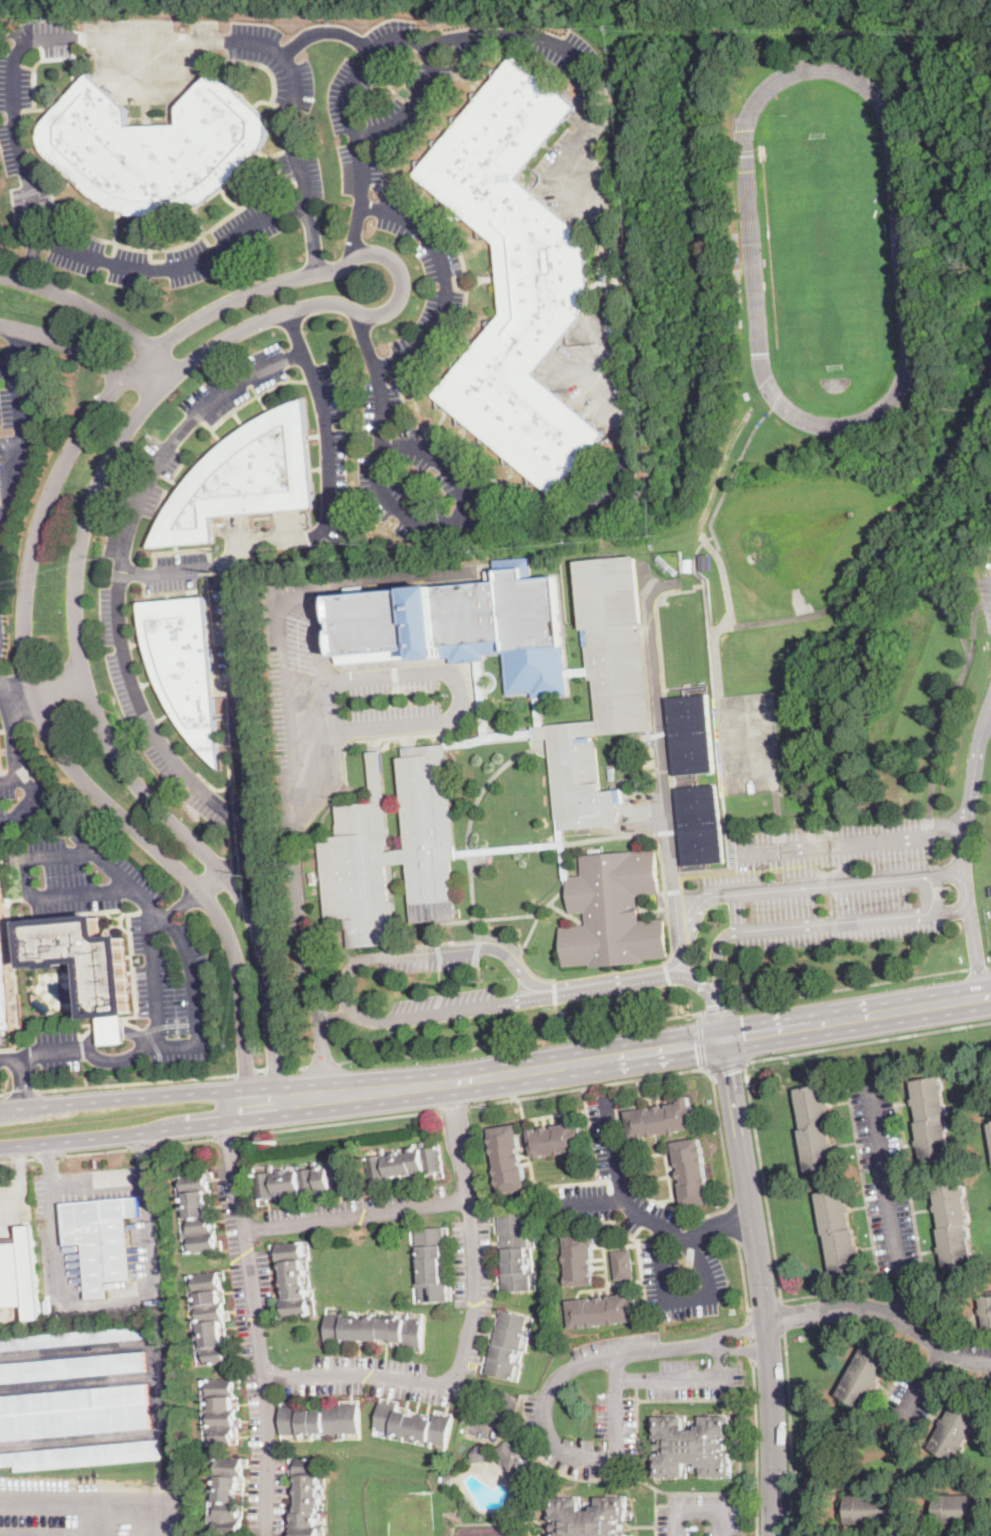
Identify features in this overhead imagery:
parking lot: (2, 0)
road: (330, 32)
road: (413, 38)
parking lot: (205, 48)
building: (216, 54)
road: (14, 72)
parking lot: (420, 87)
road: (412, 102)
parking lot: (14, 118)
building: (153, 147)
parking lot: (259, 216)
road: (357, 225)
road: (311, 234)
park: (826, 247)
track: (825, 250)
road: (29, 256)
building: (735, 260)
building: (516, 277)
parking lot: (445, 288)
road: (440, 307)
road: (96, 311)
road: (296, 332)
road: (83, 351)
road: (614, 366)
building: (746, 396)
parking lot: (16, 404)
road: (22, 406)
road: (201, 410)
parking lot: (332, 440)
building: (244, 477)
parking lot: (463, 484)
road: (12, 485)
road: (421, 522)
building: (705, 563)
building: (687, 565)
power tower: (220, 573)
power tower: (4, 585)
road: (24, 598)
road: (934, 599)
parking lot: (986, 599)
road: (987, 604)
parking lot: (113, 621)
road: (76, 622)
road: (989, 623)
building: (466, 624)
road: (974, 631)
building: (684, 642)
building: (183, 665)
building: (577, 671)
road: (326, 680)
road: (241, 687)
road: (44, 688)
building: (603, 691)
building: (481, 693)
road: (460, 695)
building: (223, 704)
building: (539, 712)
road: (987, 713)
road: (11, 732)
building: (691, 733)
power tower: (238, 744)
building: (540, 744)
road: (661, 746)
building: (1, 758)
road: (38, 792)
parking lot: (22, 797)
road: (968, 798)
building: (700, 824)
road: (851, 838)
building: (394, 850)
road: (237, 861)
building: (564, 867)
parking lot: (79, 873)
power tower: (252, 875)
road: (213, 882)
road: (64, 894)
road: (187, 903)
building: (613, 911)
building: (435, 932)
road: (975, 949)
road: (979, 968)
building: (89, 969)
parking lot: (173, 972)
road: (621, 974)
building: (4, 981)
road: (849, 986)
road: (157, 995)
road: (674, 1001)
building: (43, 1007)
road: (718, 1009)
road: (698, 1015)
road: (720, 1016)
road: (857, 1017)
road: (117, 1028)
road: (743, 1032)
traffic signals: (723, 1039)
road: (521, 1040)
road: (322, 1042)
road: (701, 1044)
road: (83, 1046)
parking lot: (57, 1048)
power tower: (797, 1057)
road: (323, 1063)
road: (296, 1067)
road: (728, 1068)
road: (259, 1069)
road: (274, 1069)
road: (245, 1070)
road: (85, 1071)
road: (474, 1078)
road: (23, 1079)
road: (136, 1080)
road: (714, 1086)
road: (749, 1087)
road: (3, 1088)
road: (22, 1091)
road: (3, 1093)
road: (125, 1097)
road: (13, 1106)
road: (451, 1106)
power tower: (492, 1106)
building: (662, 1119)
building: (931, 1120)
road: (336, 1121)
building: (990, 1123)
building: (990, 1127)
building: (816, 1128)
road: (226, 1134)
road: (114, 1135)
road: (185, 1139)
building: (556, 1139)
power tower: (274, 1142)
road: (141, 1145)
road: (94, 1149)
road: (144, 1151)
road: (48, 1154)
road: (17, 1157)
building: (507, 1158)
road: (49, 1161)
building: (404, 1163)
building: (692, 1172)
parking lot: (885, 1176)
building: (302, 1181)
road: (10, 1190)
road: (598, 1197)
road: (888, 1200)
road: (21, 1201)
parking lot: (12, 1206)
road: (640, 1210)
road: (355, 1211)
building: (198, 1213)
road: (734, 1221)
parking lot: (50, 1224)
building: (953, 1226)
parking lot: (646, 1227)
building: (839, 1231)
road: (470, 1234)
building: (102, 1238)
building: (515, 1252)
building: (580, 1259)
building: (622, 1263)
building: (431, 1264)
building: (30, 1272)
building: (11, 1276)
road: (743, 1278)
building: (293, 1280)
road: (761, 1286)
road: (683, 1297)
road: (59, 1307)
road: (764, 1307)
building: (603, 1310)
building: (986, 1310)
road: (883, 1313)
road: (782, 1316)
building: (209, 1317)
road: (254, 1319)
building: (374, 1330)
building: (77, 1338)
road: (749, 1339)
building: (507, 1345)
parking lot: (617, 1352)
parking lot: (975, 1356)
building: (72, 1367)
road: (357, 1376)
road: (686, 1377)
building: (864, 1377)
parking lot: (694, 1379)
road: (920, 1381)
road: (549, 1389)
parking lot: (911, 1399)
building: (220, 1410)
building: (74, 1412)
parking lot: (615, 1419)
building: (320, 1420)
building: (412, 1425)
building: (956, 1430)
road: (789, 1433)
building: (569, 1441)
building: (692, 1446)
road: (756, 1448)
building: (81, 1456)
building: (516, 1463)
building: (441, 1479)
building: (447, 1481)
building: (227, 1497)
building: (306, 1497)
parking lot: (89, 1505)
building: (871, 1509)
building: (960, 1509)
road: (700, 1513)
building: (588, 1516)
parking lot: (700, 1516)
park: (490, 1530)

